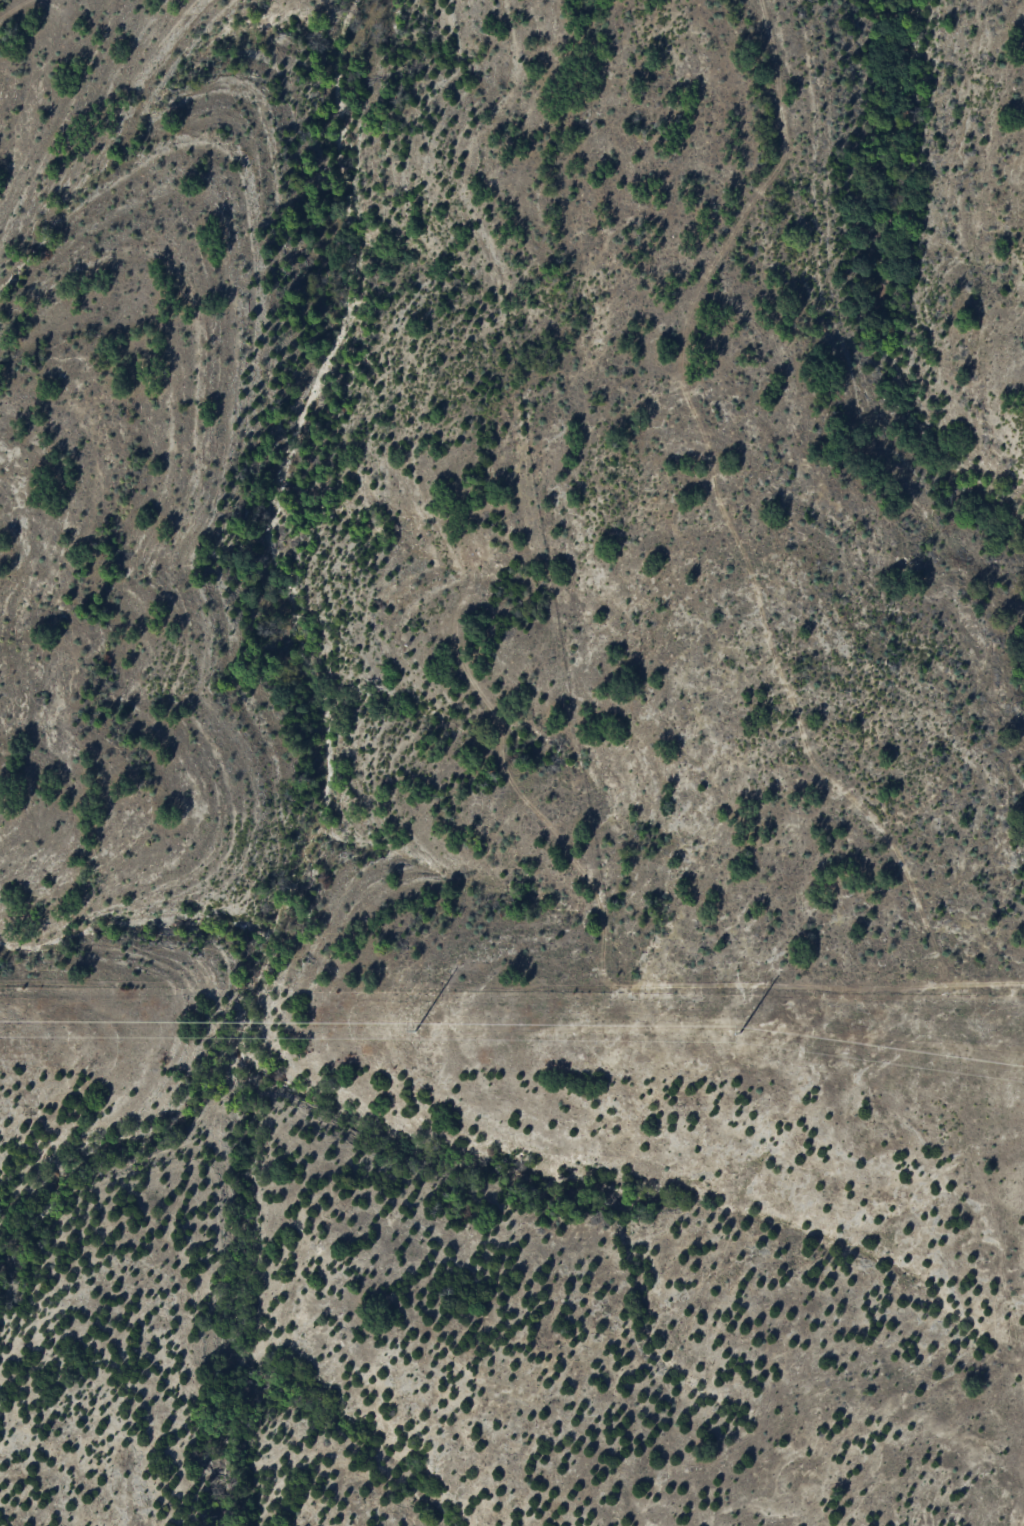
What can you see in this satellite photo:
power tower: (401, 1031)
power tower: (729, 1033)

